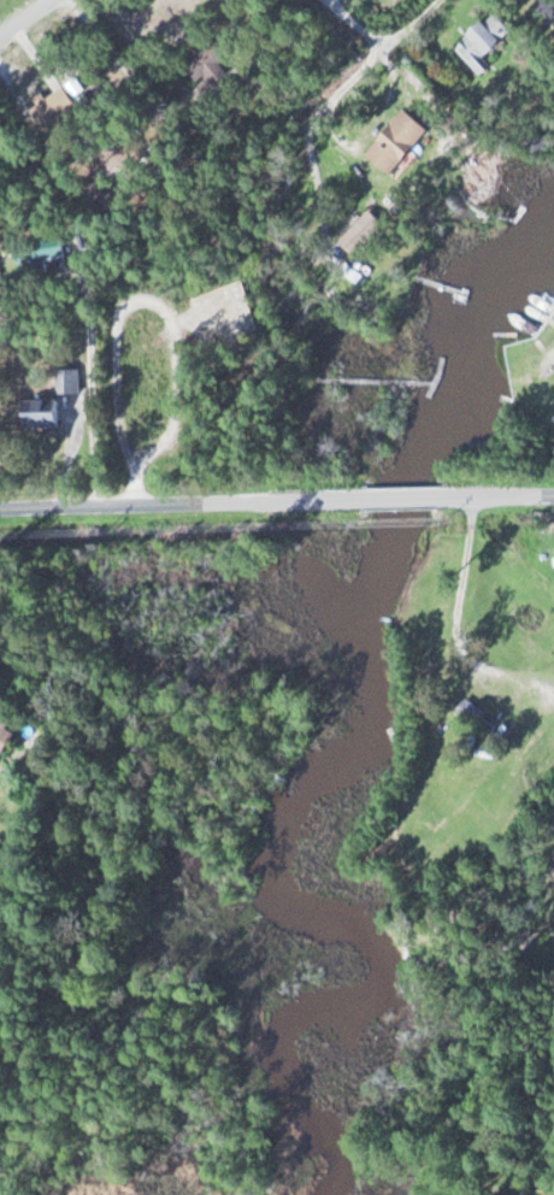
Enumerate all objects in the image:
road: (25, 17)
road: (346, 22)
building: (479, 43)
road: (359, 57)
building: (205, 65)
building: (51, 108)
building: (393, 143)
building: (41, 248)
road: (114, 299)
building: (65, 382)
building: (37, 413)
road: (276, 500)
building: (476, 716)
building: (5, 734)

